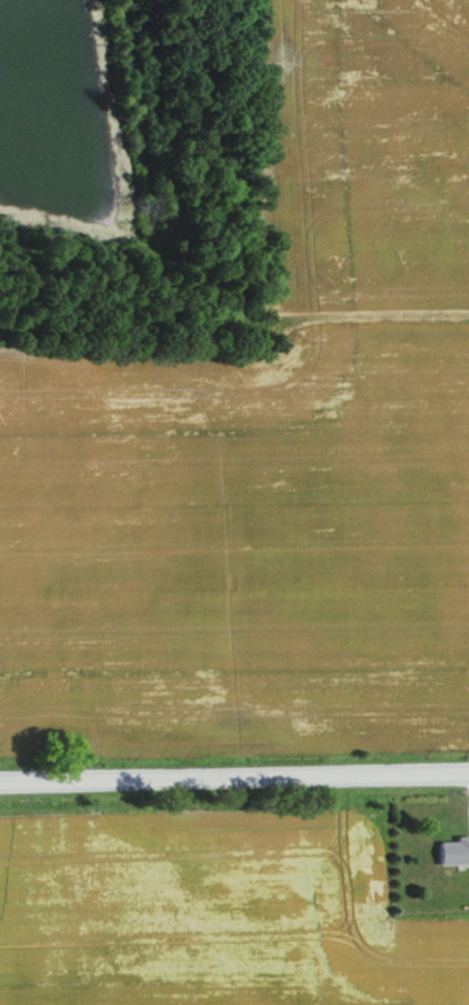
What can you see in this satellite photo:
road: (234, 773)
building: (451, 853)

